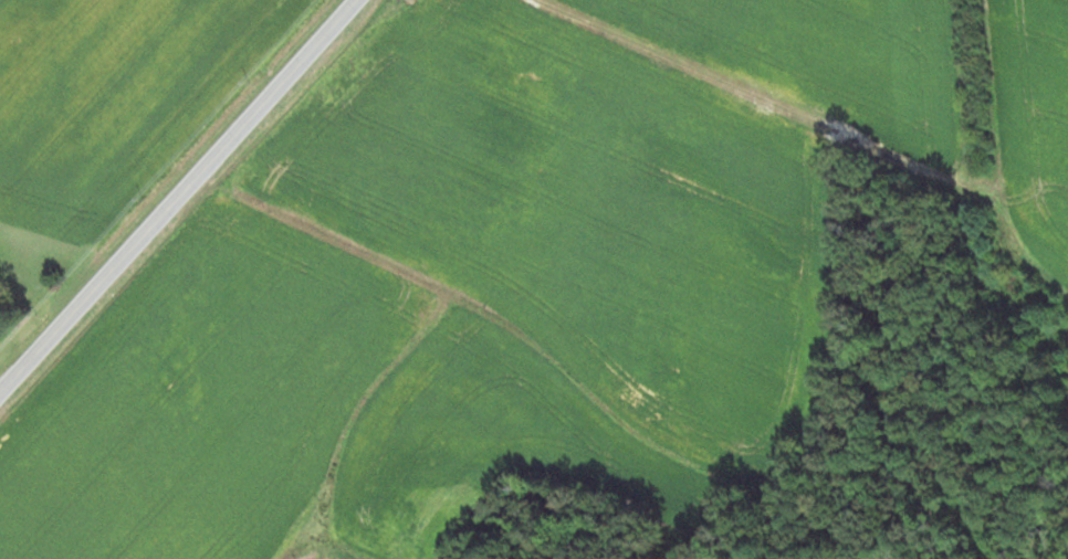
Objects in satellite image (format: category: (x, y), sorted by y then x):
power tower: (247, 85)
road: (179, 197)
power tower: (36, 314)

